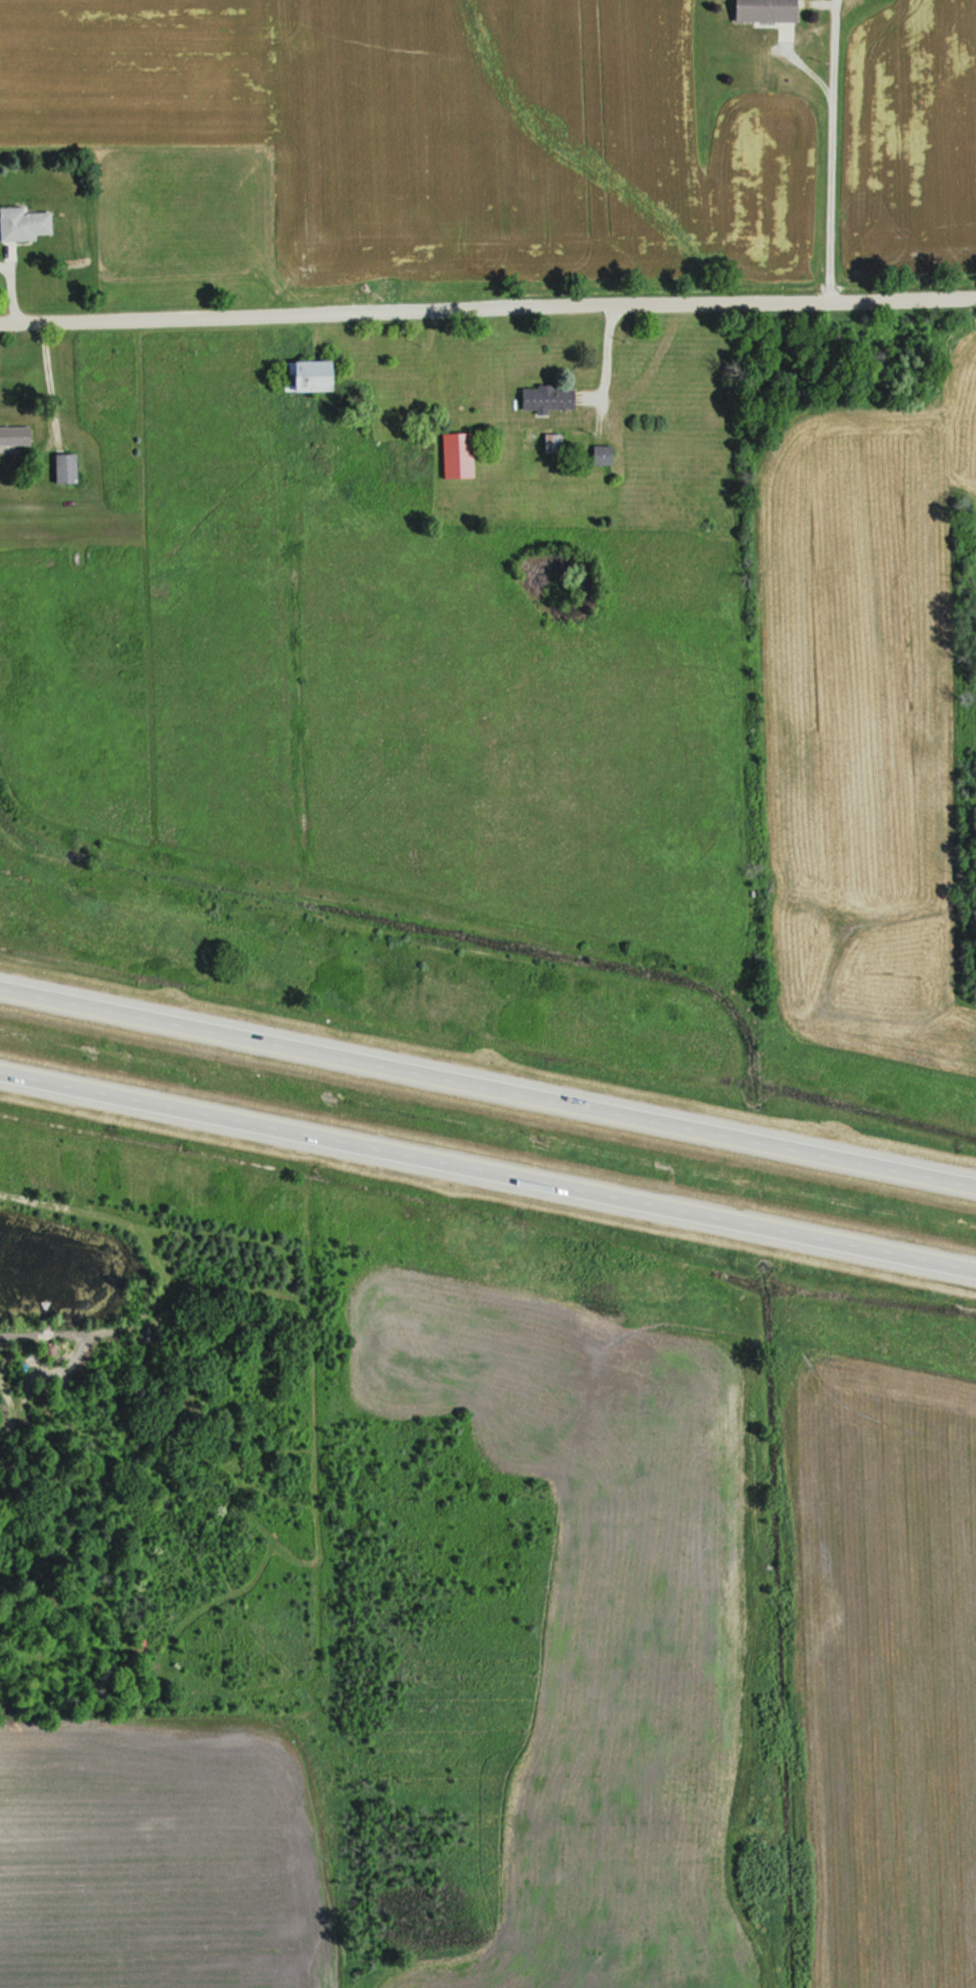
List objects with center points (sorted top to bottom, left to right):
building: (769, 10)
road: (829, 151)
building: (25, 223)
road: (18, 287)
road: (488, 310)
building: (313, 375)
building: (551, 399)
building: (17, 435)
building: (461, 454)
building: (70, 467)
road: (487, 1087)
road: (488, 1167)

